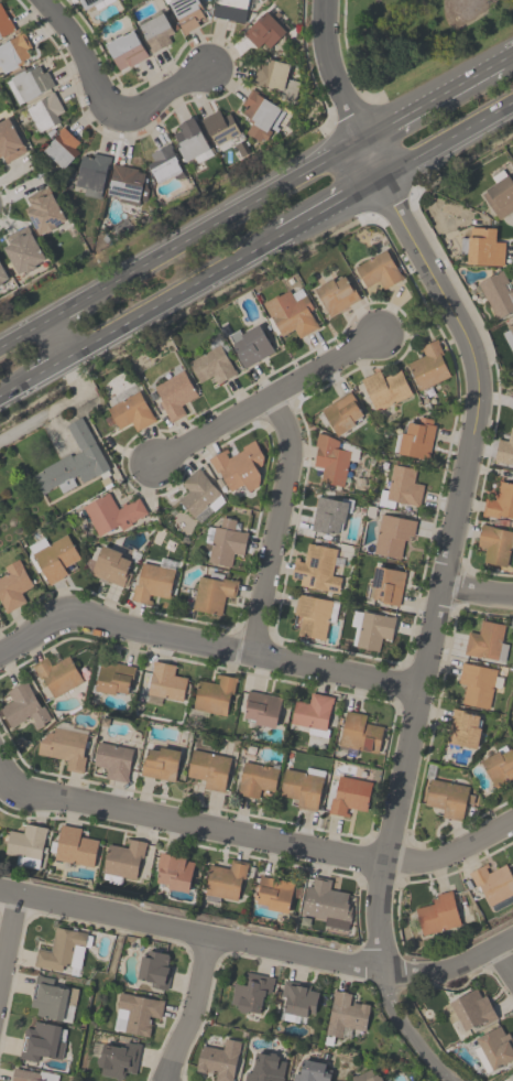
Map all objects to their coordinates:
building: (92, 2)
building: (230, 9)
building: (186, 12)
building: (4, 23)
building: (263, 30)
building: (156, 31)
park: (414, 39)
building: (125, 50)
building: (13, 51)
road: (81, 57)
road: (506, 58)
building: (275, 78)
building: (31, 82)
road: (164, 93)
road: (430, 100)
building: (44, 111)
building: (258, 113)
building: (219, 126)
road: (446, 136)
building: (9, 141)
building: (190, 141)
building: (62, 147)
building: (163, 162)
building: (91, 171)
building: (124, 182)
building: (500, 195)
road: (327, 203)
building: (43, 210)
road: (181, 241)
building: (483, 246)
building: (22, 249)
building: (378, 270)
building: (2, 273)
road: (171, 291)
building: (496, 293)
building: (336, 294)
building: (290, 313)
road: (56, 334)
building: (509, 336)
building: (250, 345)
road: (47, 364)
building: (211, 365)
building: (428, 365)
road: (14, 385)
building: (384, 388)
building: (174, 393)
road: (263, 401)
road: (58, 406)
building: (130, 411)
building: (339, 412)
building: (416, 437)
building: (504, 448)
building: (330, 460)
building: (73, 461)
building: (239, 466)
building: (400, 487)
building: (199, 495)
building: (500, 501)
building: (111, 512)
building: (327, 515)
road: (271, 523)
building: (392, 534)
road: (448, 537)
building: (223, 541)
building: (494, 543)
building: (53, 556)
building: (110, 566)
building: (316, 567)
building: (151, 582)
building: (384, 584)
building: (12, 585)
road: (476, 585)
building: (211, 593)
building: (314, 615)
building: (373, 629)
building: (487, 641)
road: (204, 642)
building: (57, 673)
building: (113, 677)
building: (165, 681)
building: (477, 683)
building: (214, 694)
building: (23, 706)
building: (261, 707)
building: (312, 713)
building: (462, 728)
building: (359, 733)
building: (65, 747)
building: (112, 760)
building: (160, 763)
building: (499, 765)
building: (208, 768)
building: (255, 779)
building: (302, 786)
building: (349, 794)
building: (448, 798)
road: (255, 836)
building: (26, 844)
building: (74, 846)
building: (122, 861)
building: (174, 872)
building: (225, 879)
building: (492, 882)
building: (272, 893)
building: (326, 904)
building: (437, 914)
road: (7, 931)
road: (258, 947)
building: (62, 949)
road: (501, 959)
building: (154, 969)
building: (250, 992)
building: (52, 998)
building: (297, 999)
building: (471, 1008)
building: (139, 1012)
road: (192, 1012)
building: (345, 1014)
building: (41, 1041)
building: (495, 1046)
building: (117, 1059)
building: (218, 1059)
building: (265, 1068)
building: (312, 1071)
building: (23, 1074)
building: (364, 1075)
building: (385, 1080)

